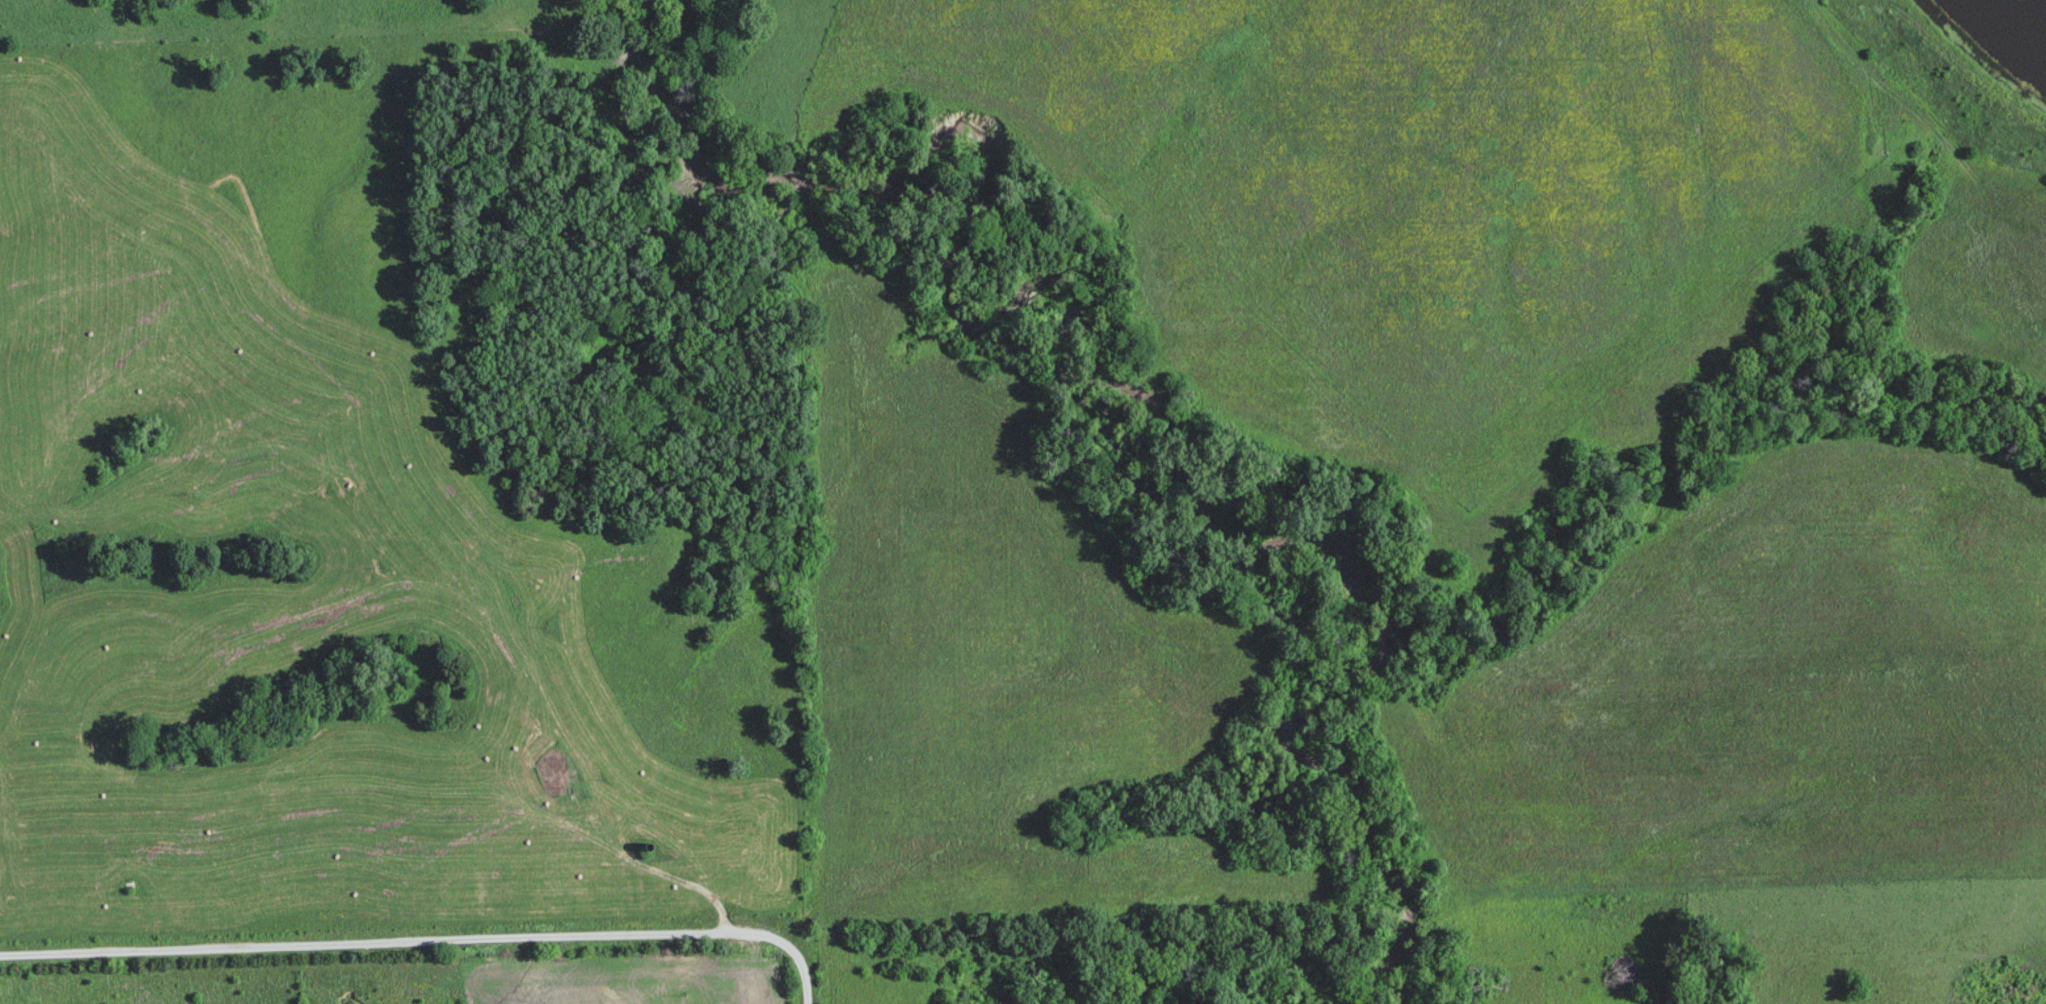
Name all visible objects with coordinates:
road: (426, 939)

